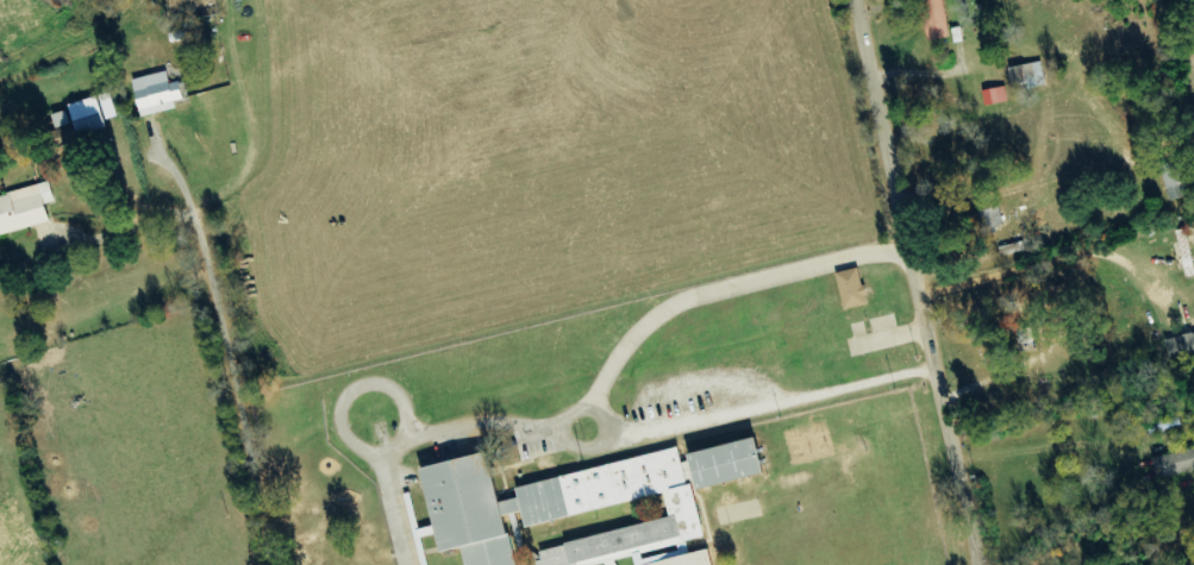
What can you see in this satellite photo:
building: (936, 20)
building: (1030, 75)
building: (160, 94)
building: (998, 96)
building: (90, 117)
building: (64, 125)
building: (1174, 176)
building: (26, 209)
road: (19, 277)
road: (918, 282)
building: (854, 289)
road: (256, 337)
building: (1182, 347)
road: (64, 395)
building: (1175, 464)
building: (583, 503)
building: (692, 559)

